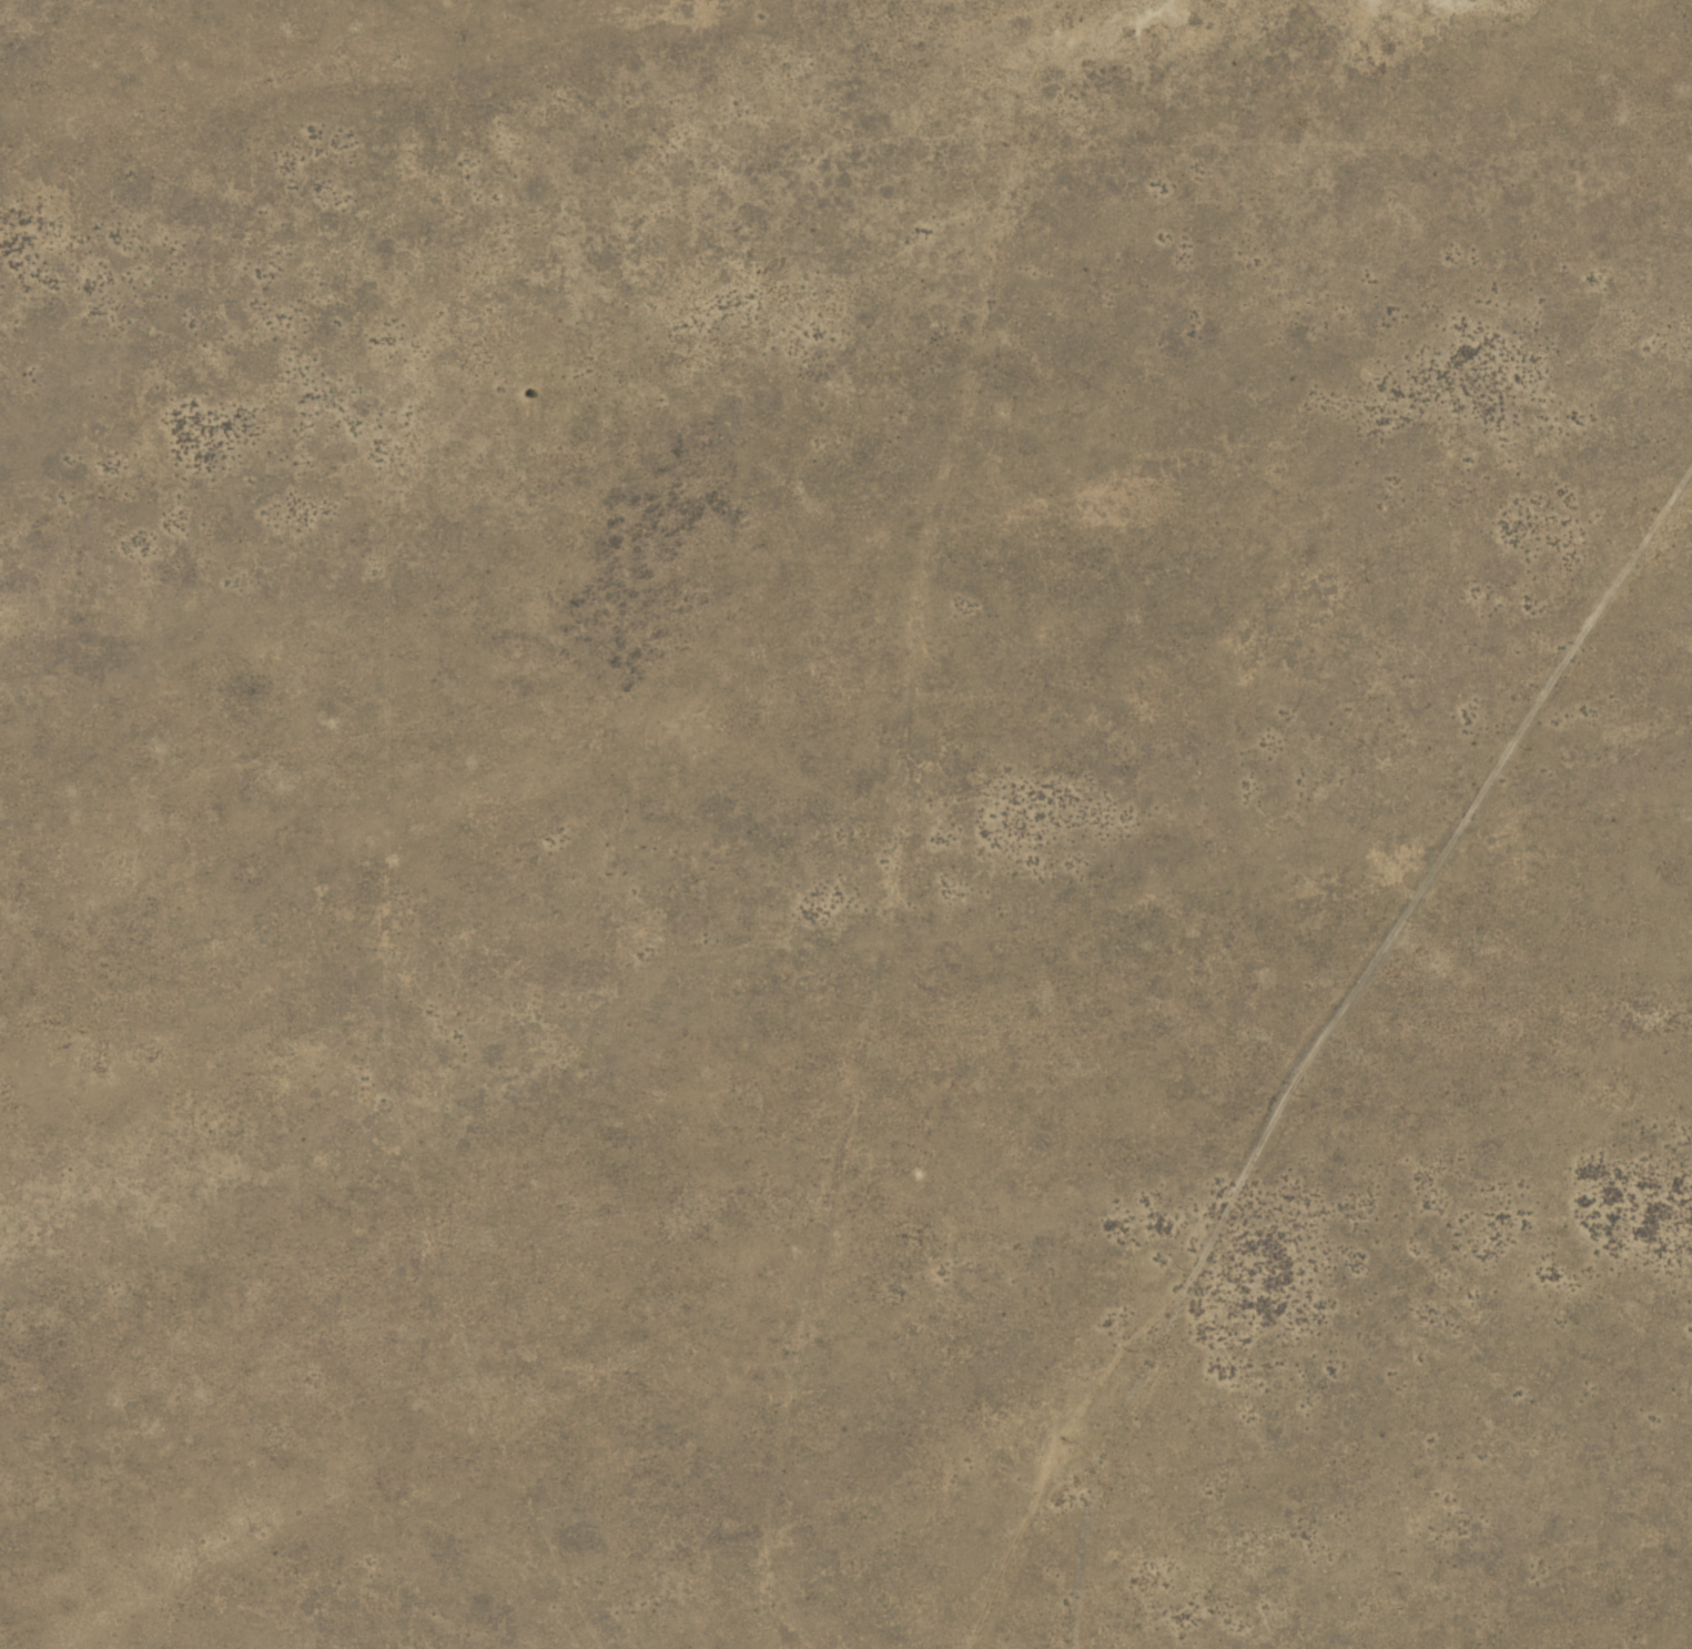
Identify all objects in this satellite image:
road: (1471, 805)

